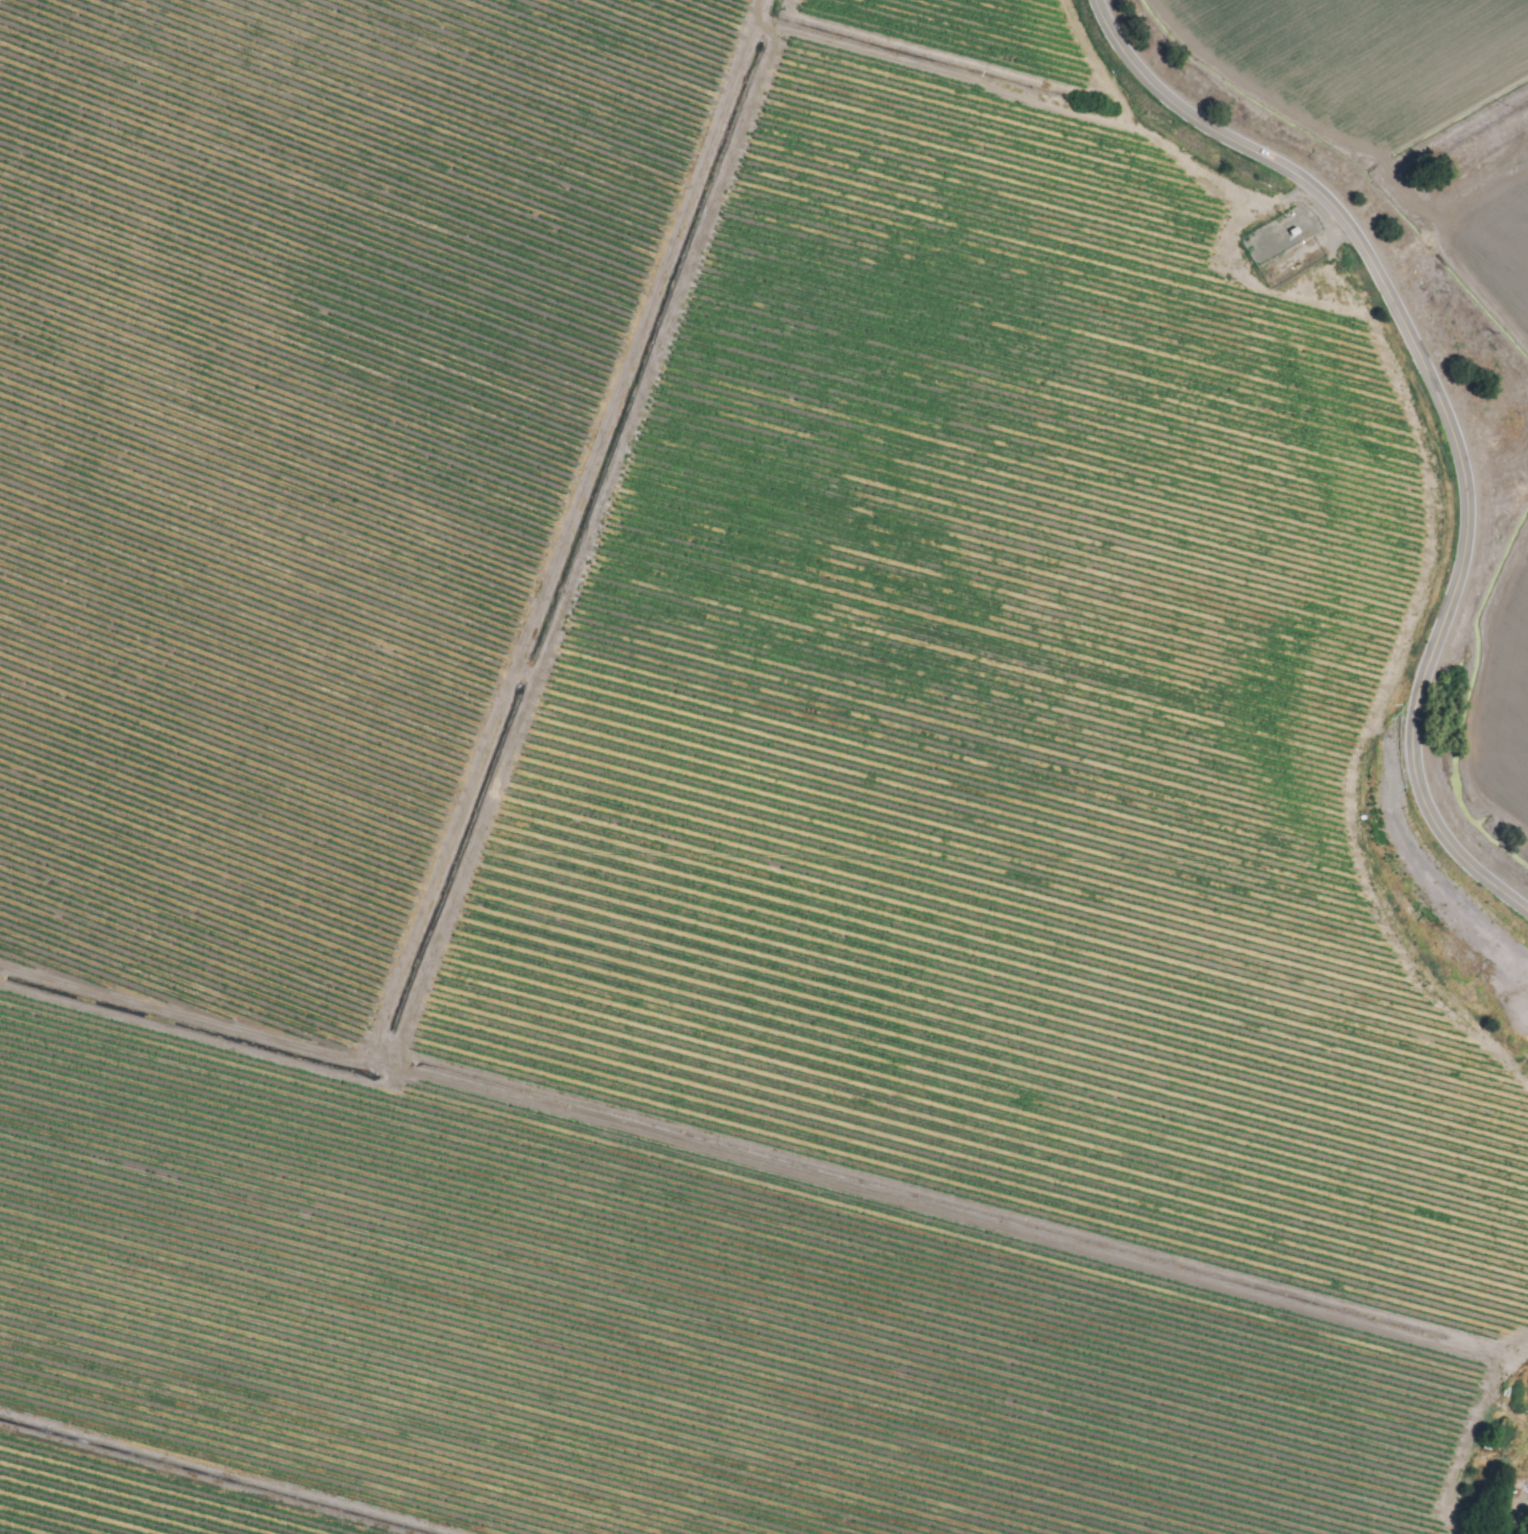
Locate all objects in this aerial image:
road: (1298, 115)
road: (1450, 217)
building: (1298, 234)
road: (1445, 410)
crop: (1503, 681)
crop: (729, 774)

